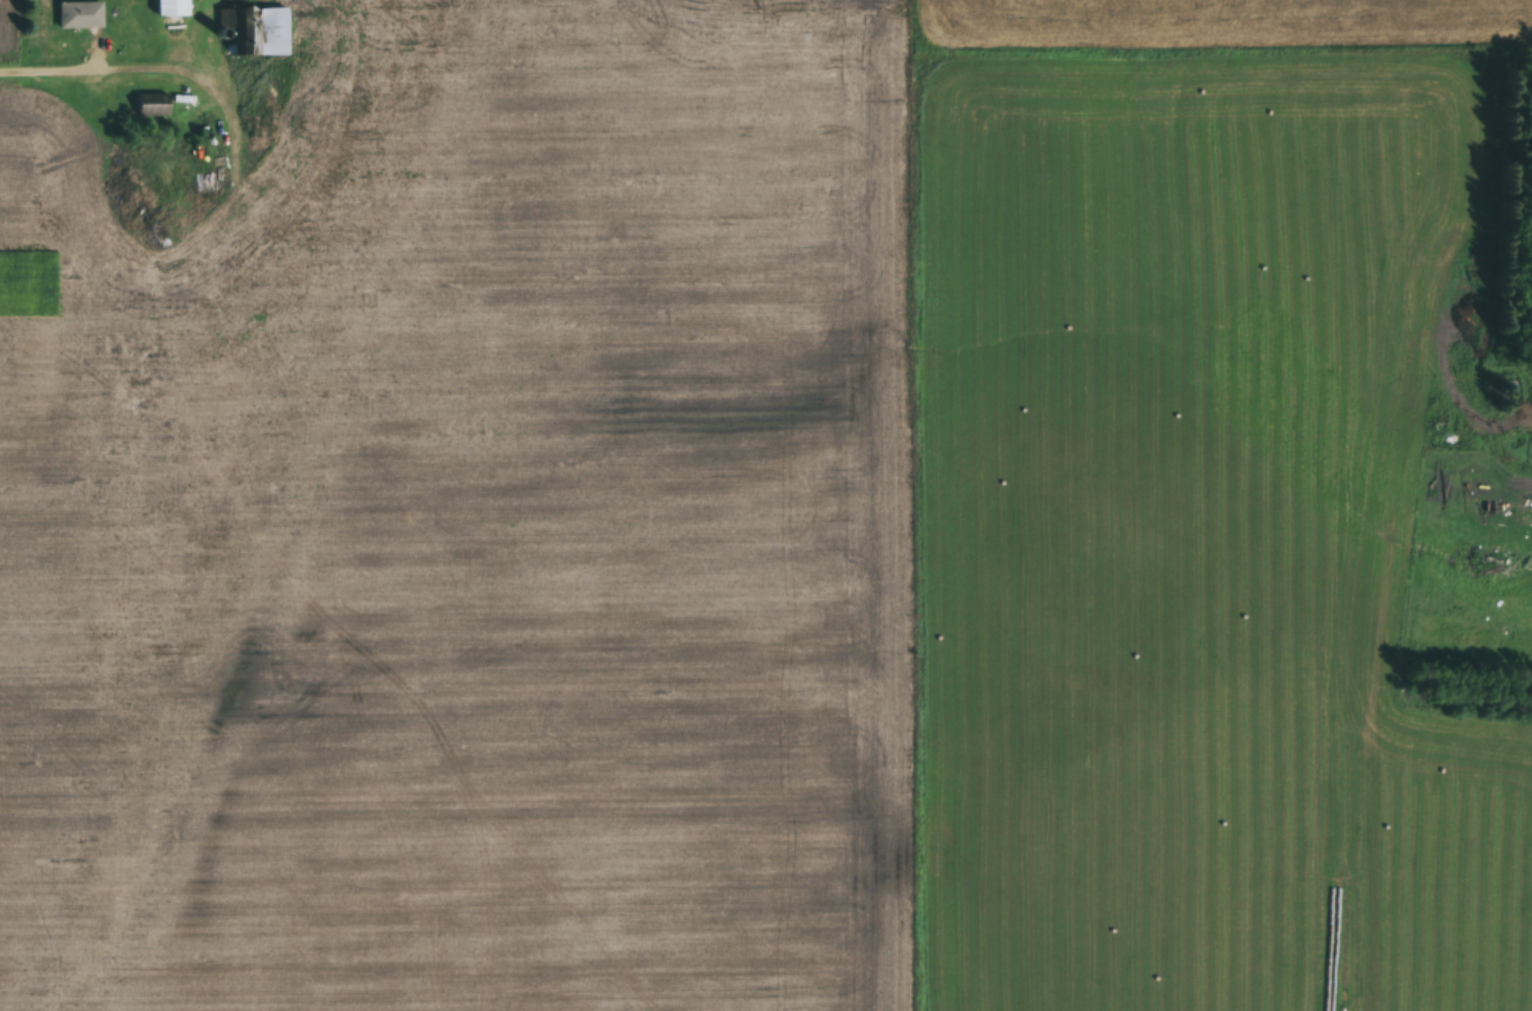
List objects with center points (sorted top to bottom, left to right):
building: (171, 8)
building: (78, 15)
building: (256, 31)
building: (151, 105)
building: (200, 184)
building: (157, 185)

